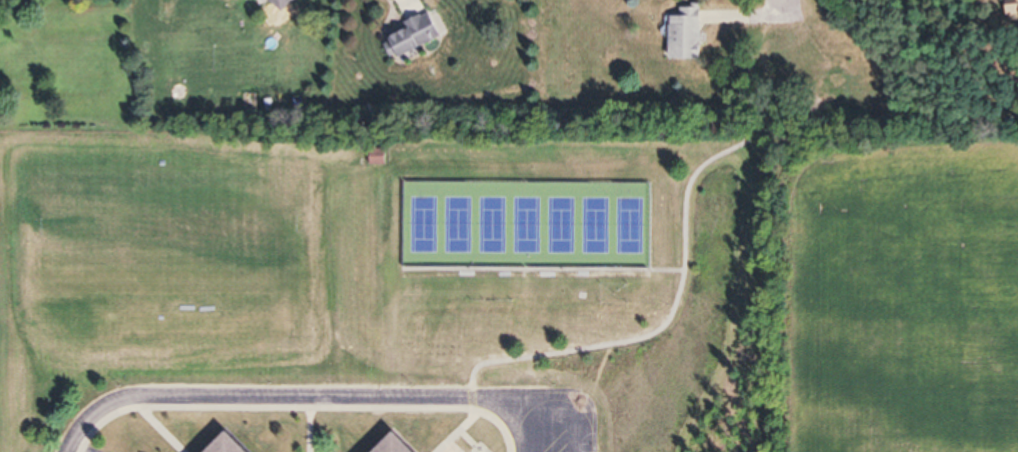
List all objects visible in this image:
road: (781, 3)
building: (1014, 7)
road: (746, 15)
building: (690, 34)
building: (417, 36)
building: (381, 157)
park: (528, 223)
park: (171, 227)
building: (234, 444)
building: (402, 445)

